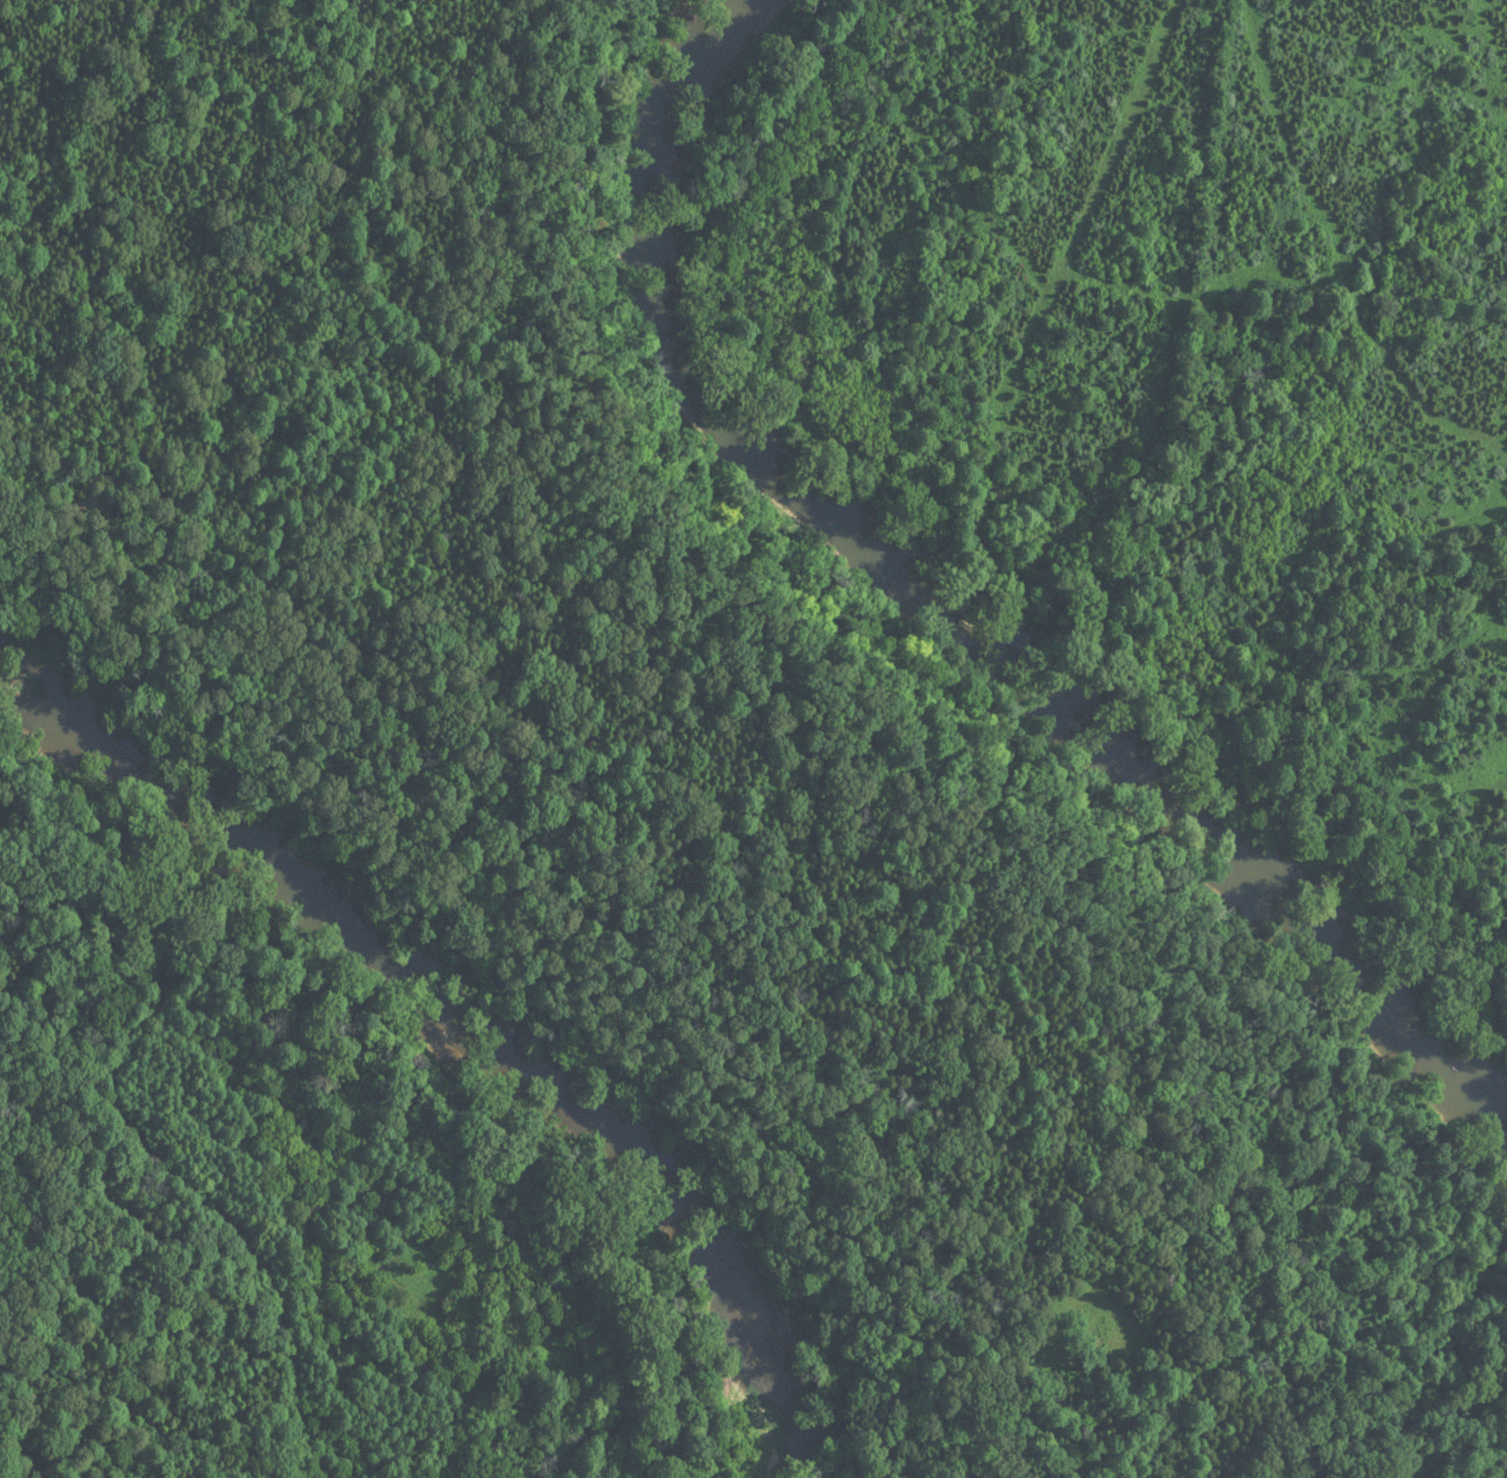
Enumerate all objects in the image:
river: (922, 624)
river: (472, 1022)

